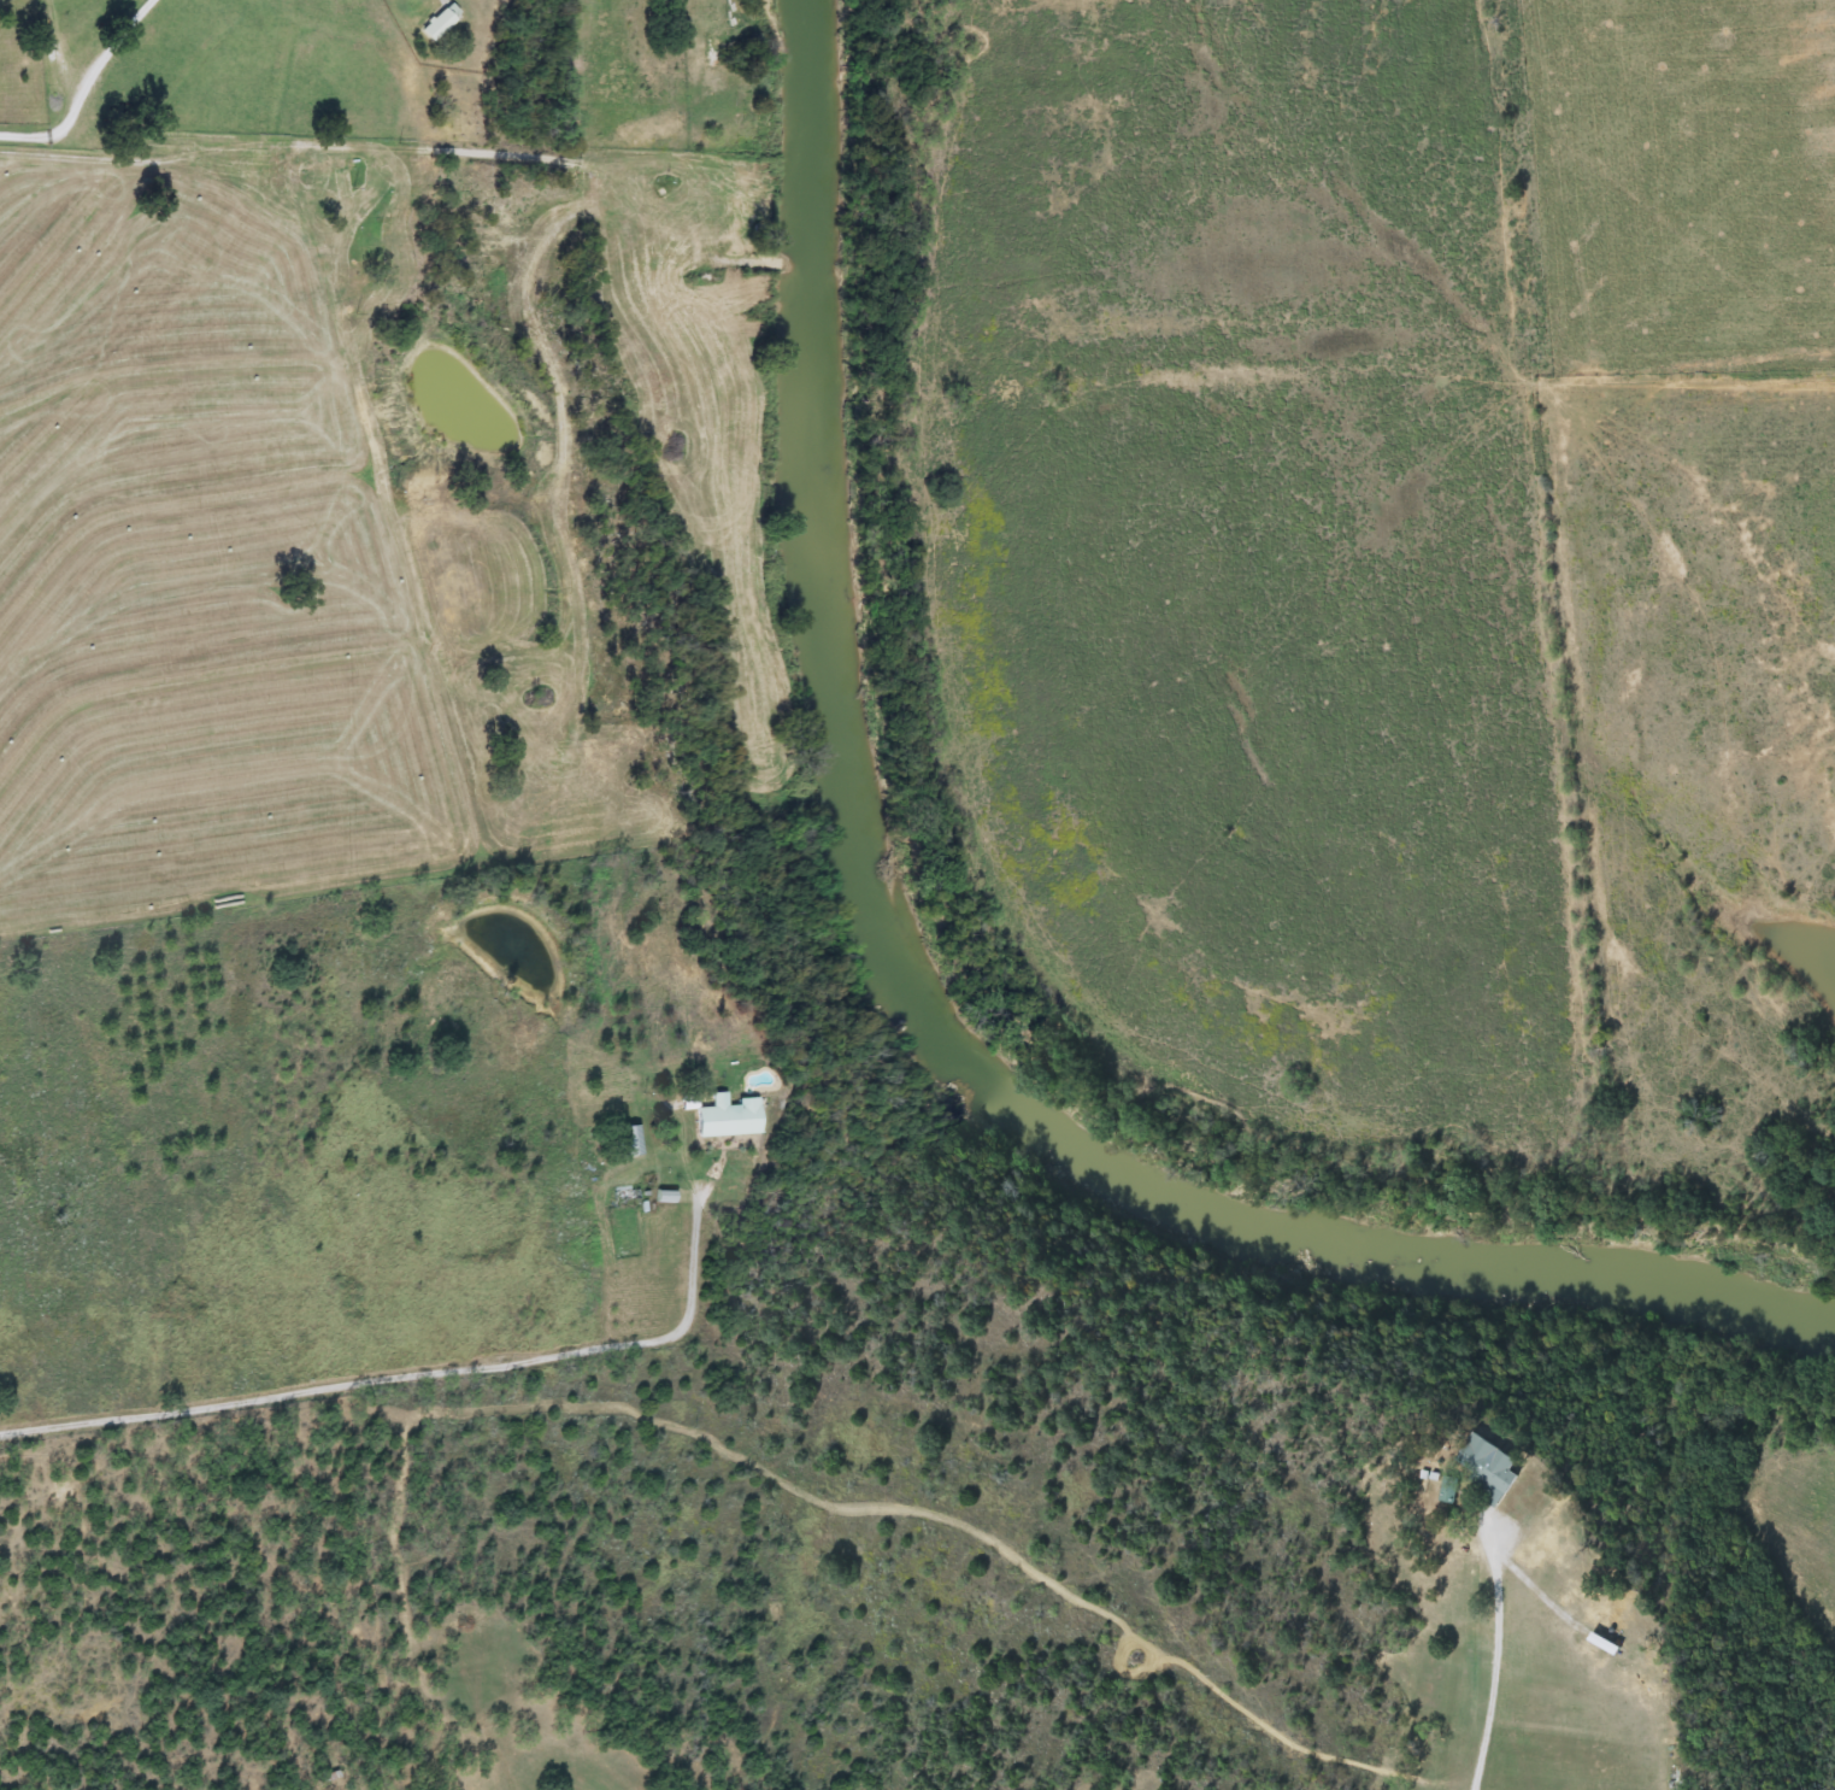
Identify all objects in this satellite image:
building: (441, 23)
road: (53, 90)
road: (267, 147)
building: (325, 163)
building: (728, 1115)
building: (627, 1198)
road: (394, 1372)
building: (1490, 1467)
building: (1608, 1643)
road: (1490, 1659)

